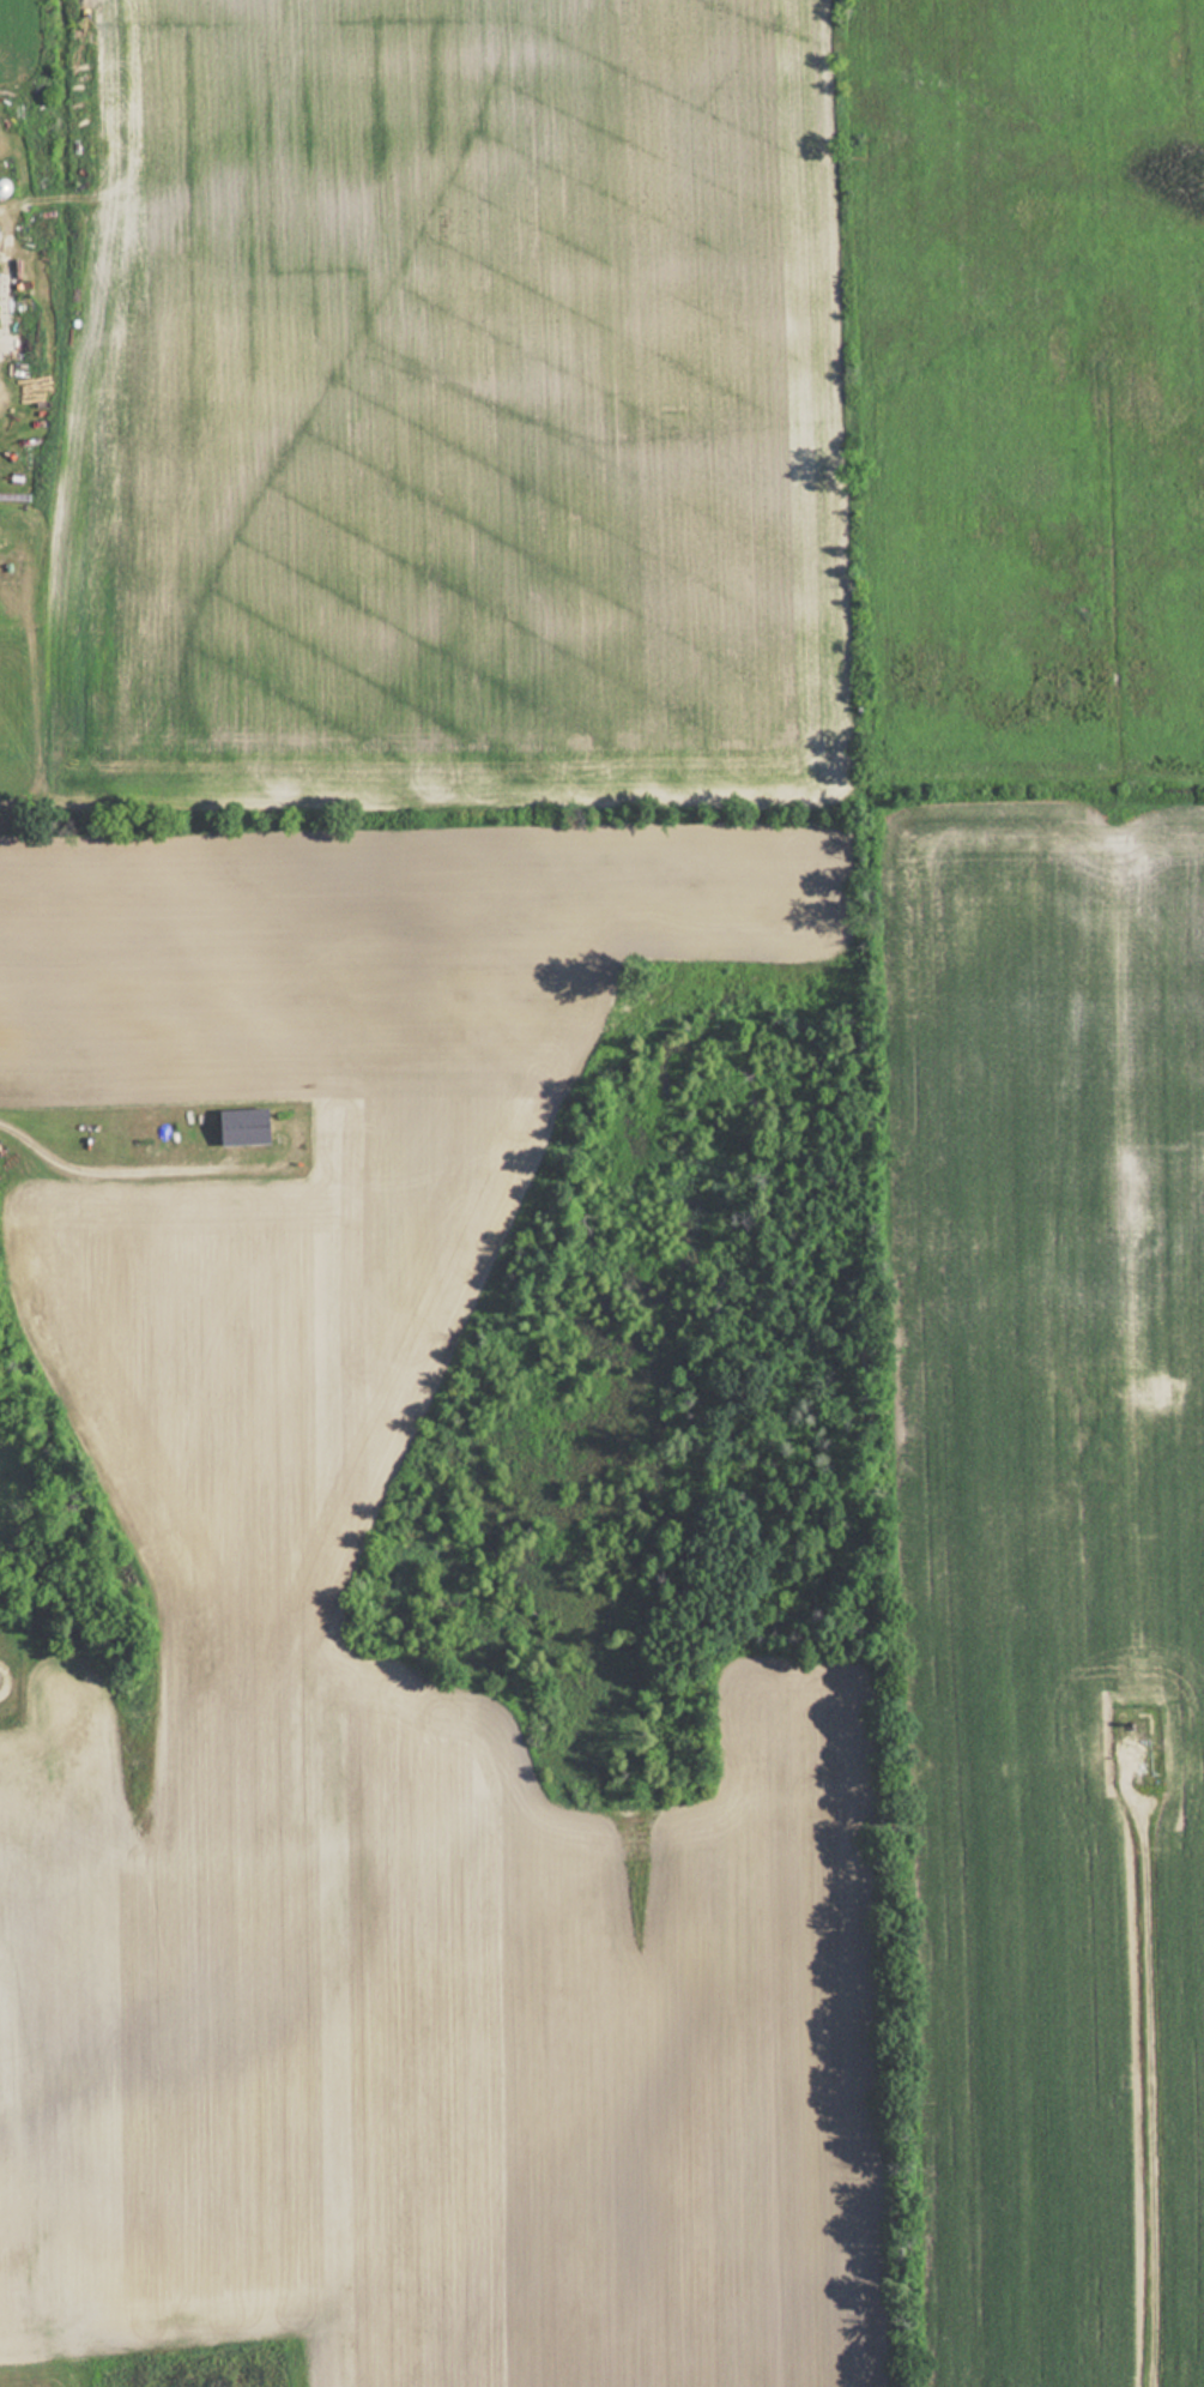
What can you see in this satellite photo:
building: (5, 187)
building: (238, 1126)
road: (1144, 2078)

